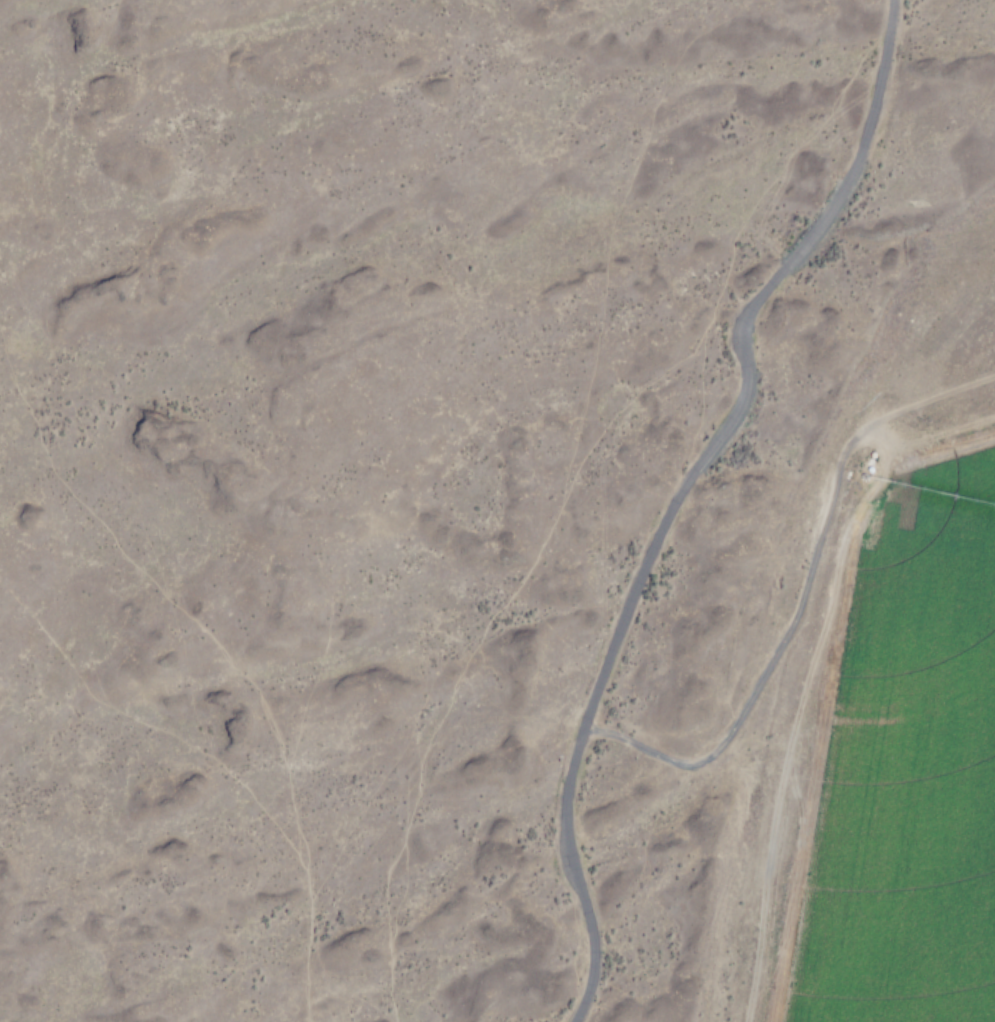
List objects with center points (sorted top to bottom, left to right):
road: (675, 493)

